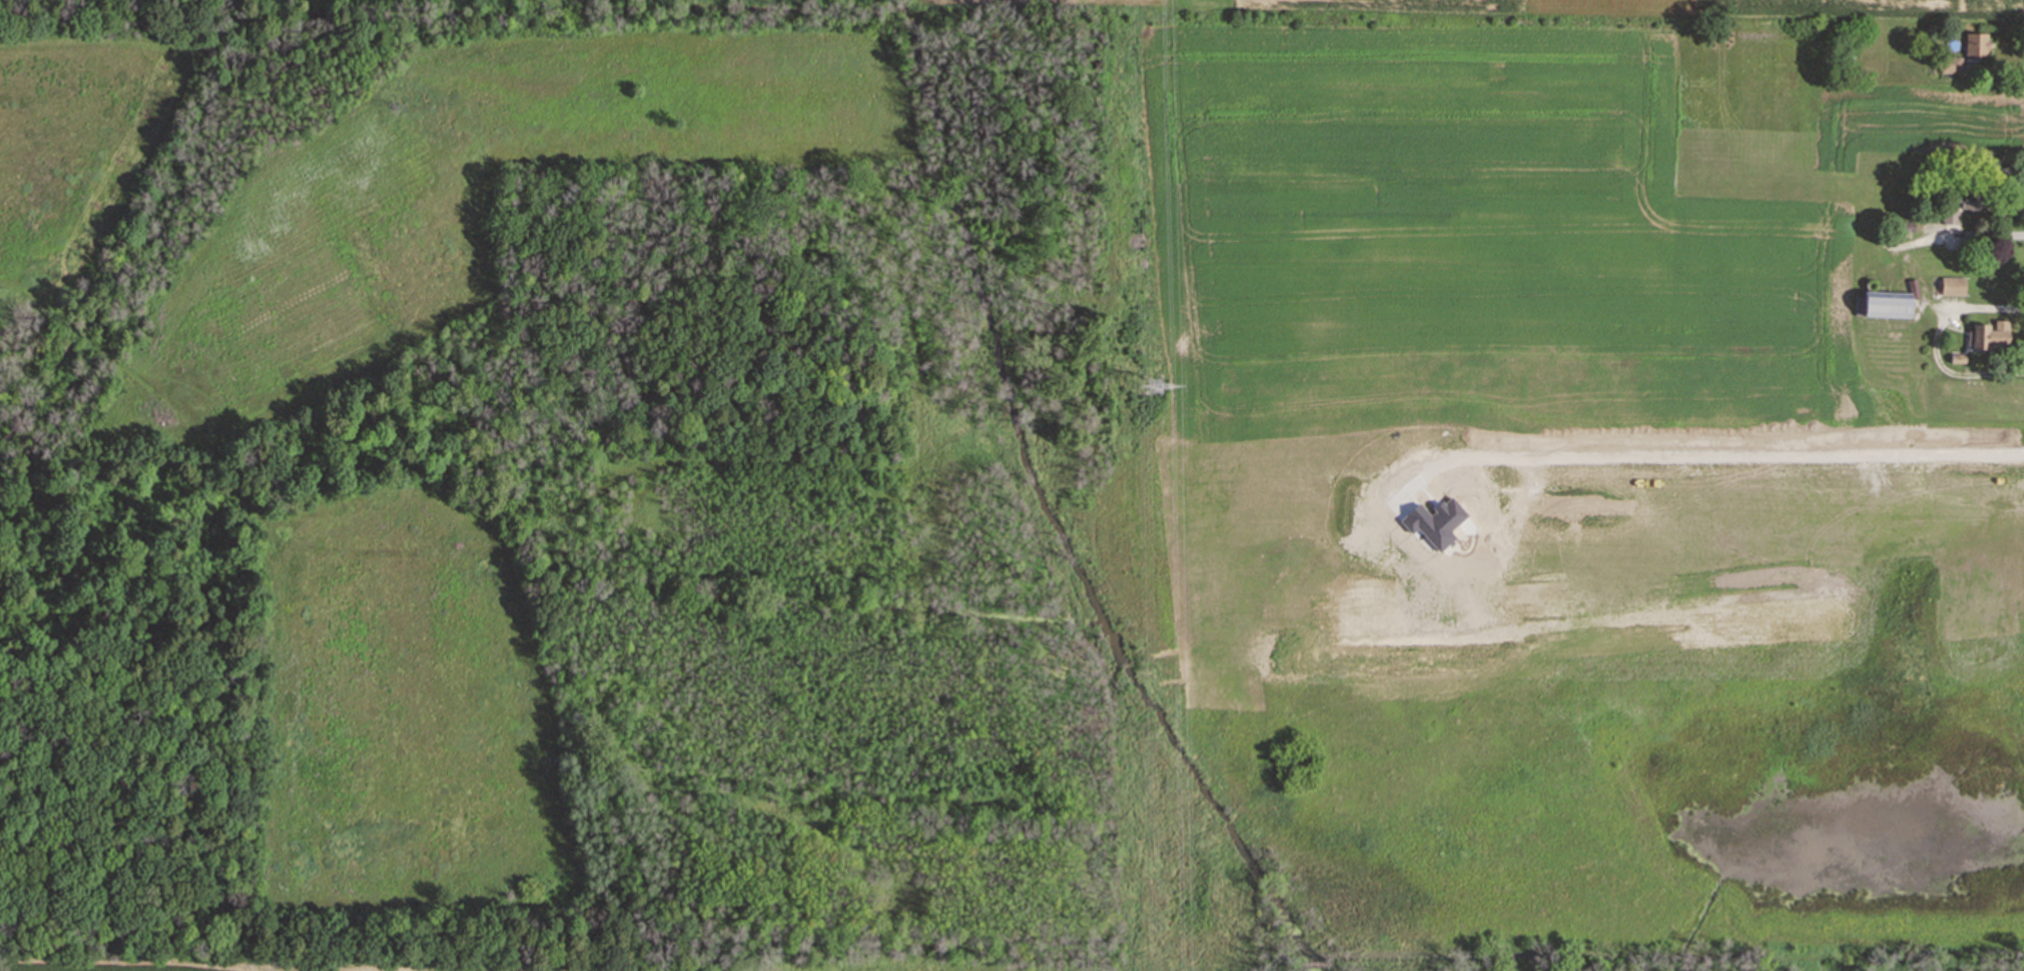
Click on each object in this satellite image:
crop: (312, 0)
building: (1976, 44)
building: (1950, 65)
building: (1971, 202)
building: (1951, 229)
road: (1986, 235)
building: (1951, 286)
building: (1884, 302)
building: (1986, 336)
road: (1934, 341)
crop: (1539, 374)
power tower: (1155, 390)
road: (1733, 448)
park: (1576, 831)
crop: (267, 966)

